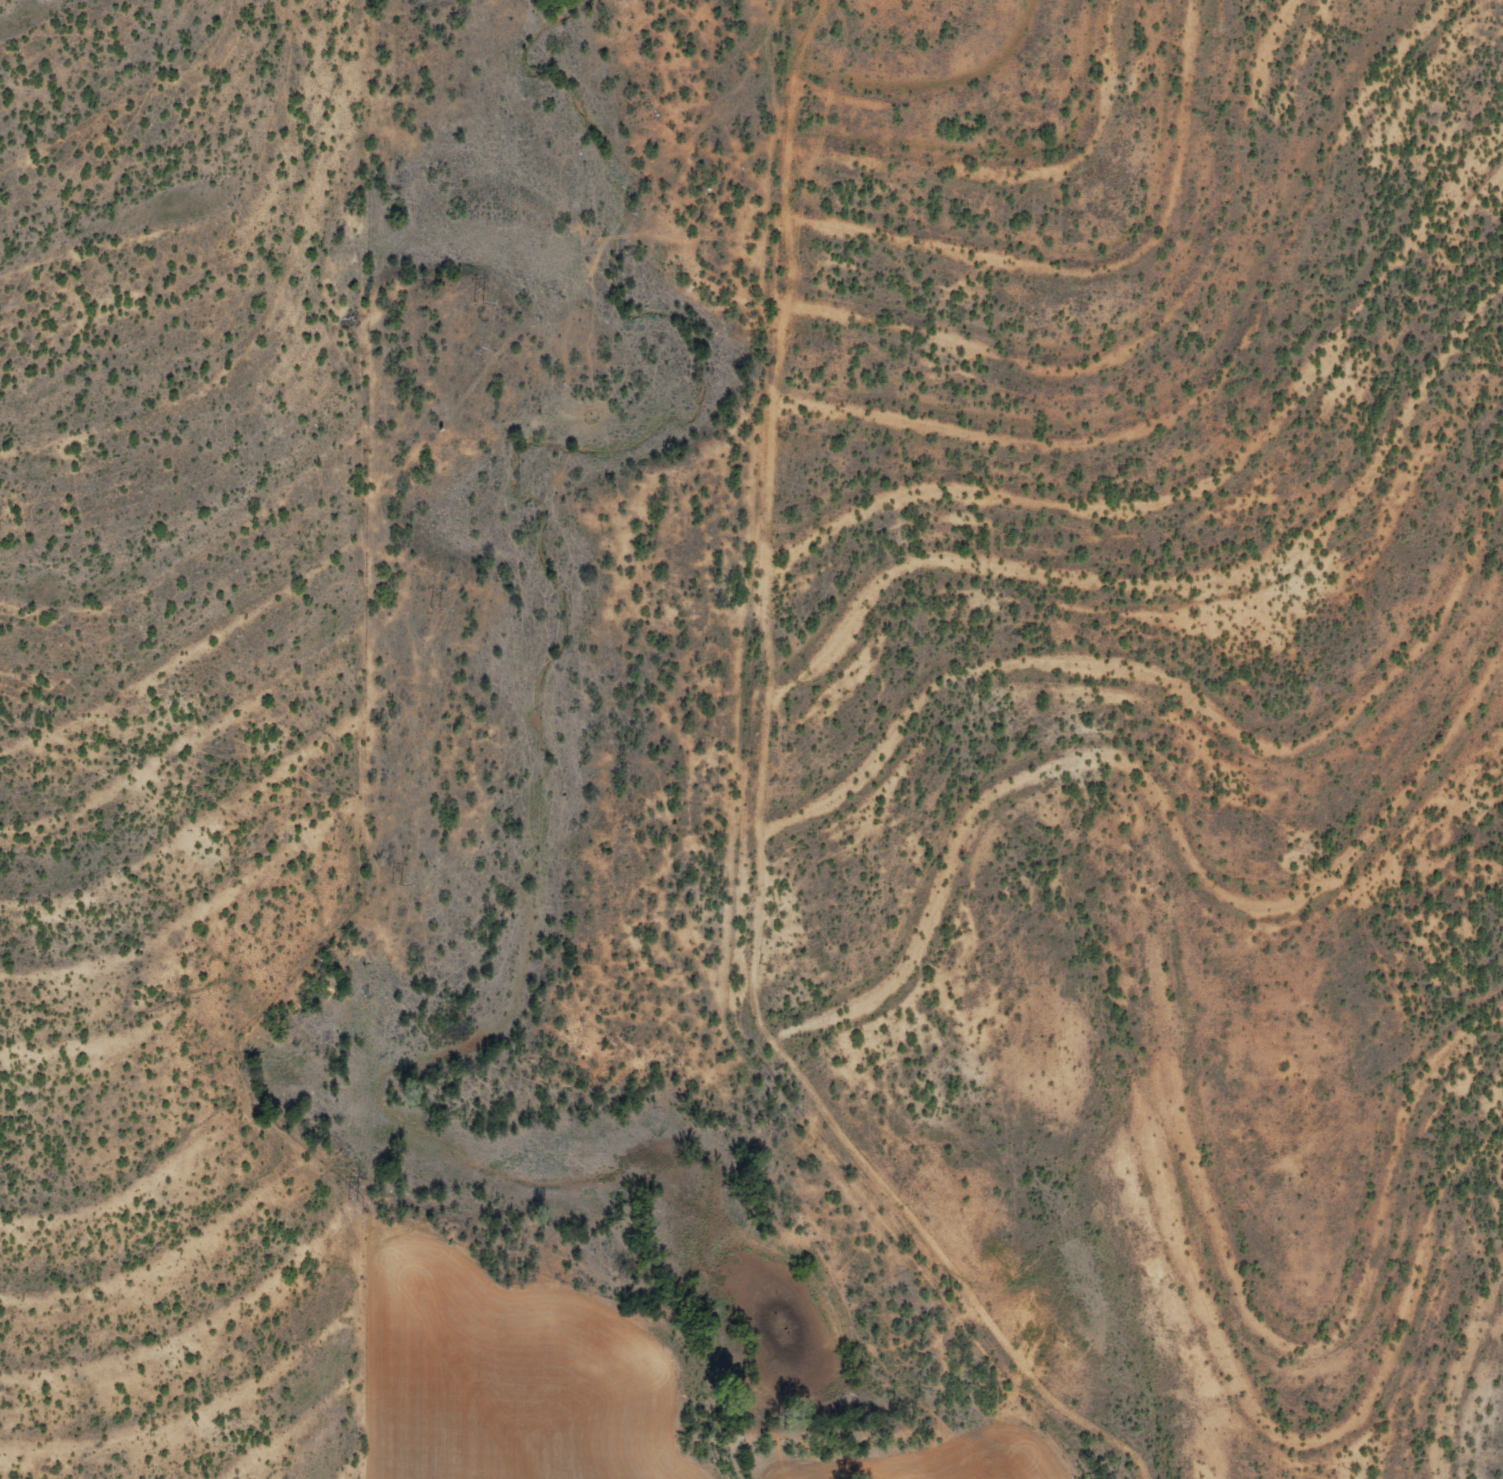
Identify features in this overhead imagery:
power tower: (478, 303)
power tower: (434, 609)
power tower: (396, 885)
power tower: (352, 1201)

